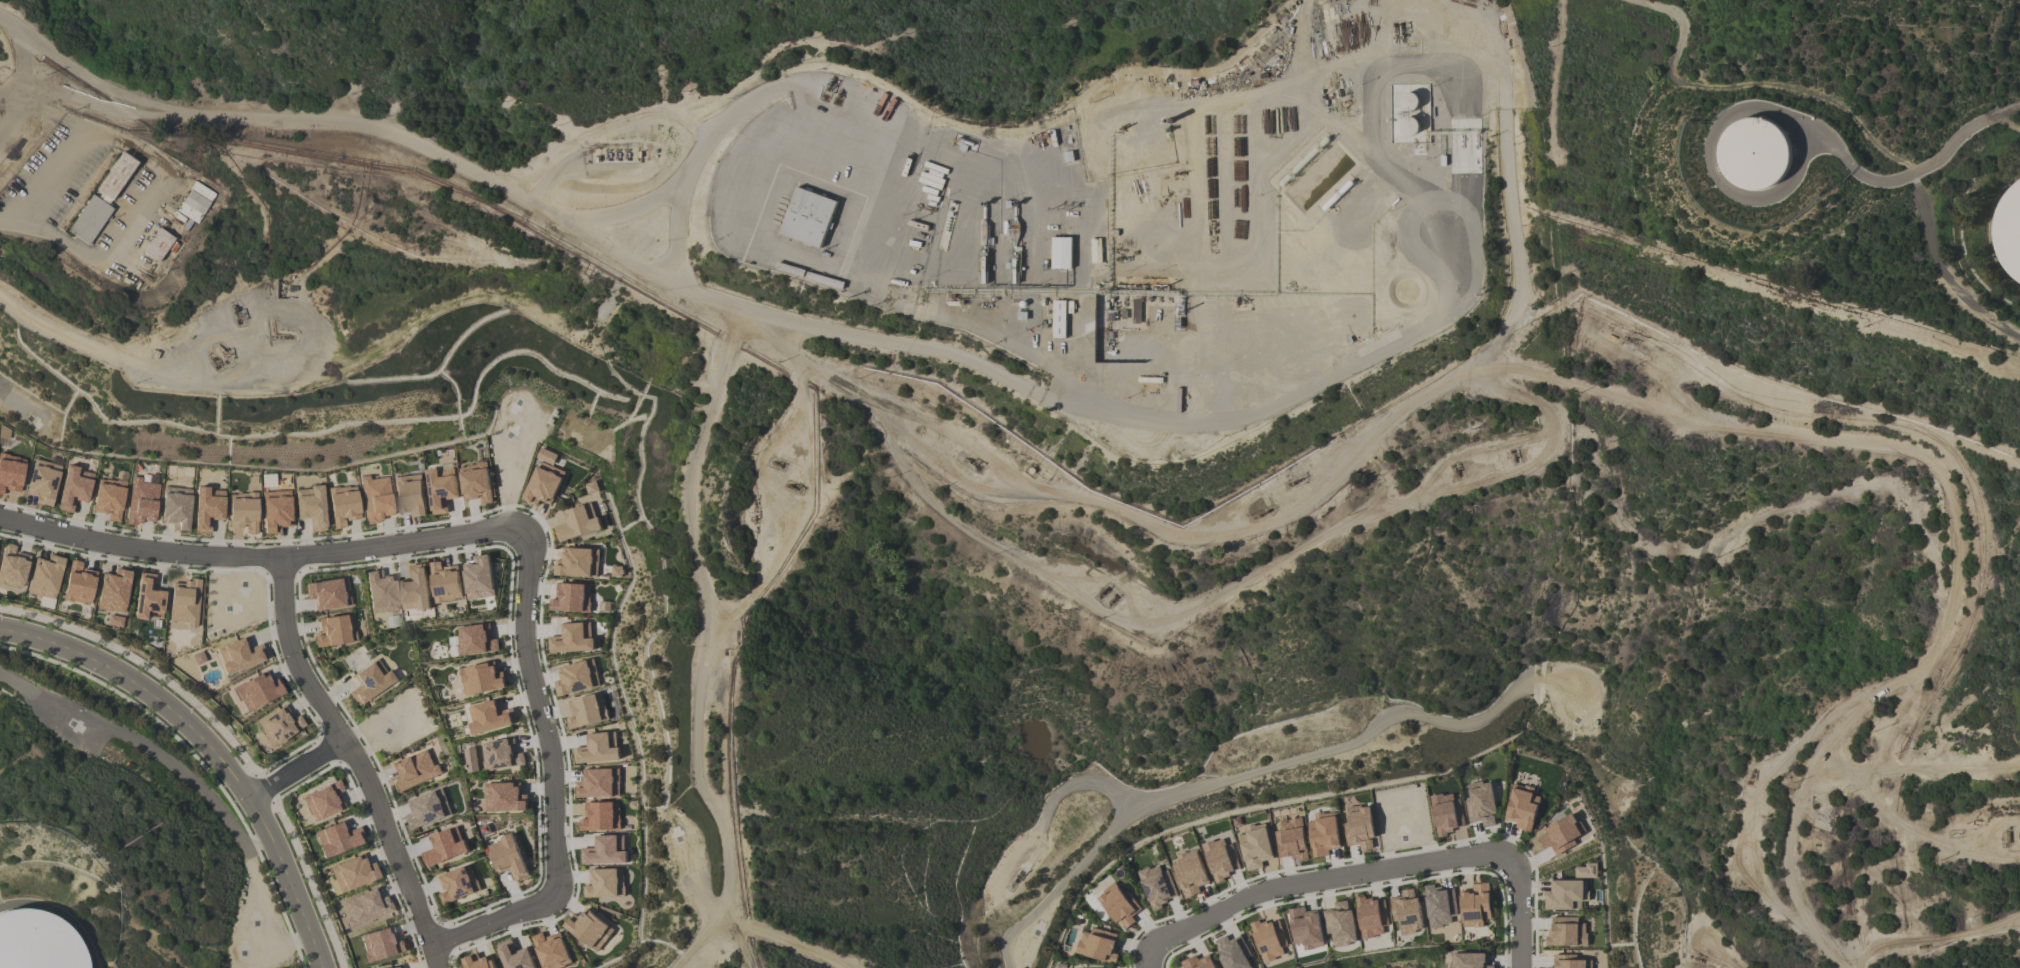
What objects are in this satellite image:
road: (1305, 19)
road: (23, 67)
road: (1803, 97)
road: (7, 104)
road: (7, 118)
road: (609, 124)
building: (1754, 155)
storage tank: (1754, 155)
road: (160, 175)
building: (114, 177)
building: (195, 202)
road: (628, 209)
building: (807, 217)
building: (89, 219)
road: (16, 221)
building: (2017, 232)
storage tank: (2017, 232)
building: (158, 244)
building: (1060, 253)
petroleum well: (235, 309)
building: (1058, 319)
petroleum well: (1629, 338)
petroleum well: (221, 351)
road: (1066, 376)
road: (888, 400)
building: (4, 437)
petroleum well: (1514, 454)
petroleum well: (968, 459)
petroleum well: (775, 464)
petroleum well: (1456, 469)
building: (11, 473)
building: (543, 479)
building: (43, 480)
petroleum well: (1293, 481)
building: (475, 483)
petroleum well: (794, 484)
building: (591, 487)
building: (74, 488)
building: (440, 491)
building: (410, 495)
building: (109, 498)
building: (376, 498)
building: (142, 502)
building: (343, 505)
building: (176, 507)
building: (311, 507)
building: (208, 508)
building: (243, 511)
building: (276, 511)
petroleum well: (1263, 513)
building: (577, 523)
road: (266, 562)
building: (577, 563)
building: (12, 567)
building: (45, 577)
building: (478, 578)
building: (445, 582)
building: (78, 584)
building: (415, 589)
petroleum well: (1102, 590)
building: (113, 591)
building: (380, 592)
building: (328, 594)
building: (570, 598)
petroleum well: (1113, 598)
building: (148, 599)
building: (185, 602)
building: (335, 631)
building: (572, 638)
building: (475, 640)
road: (718, 646)
building: (239, 655)
building: (576, 677)
building: (481, 679)
building: (370, 681)
building: (257, 691)
building: (586, 711)
building: (489, 717)
building: (279, 725)
road: (137, 742)
road: (213, 747)
building: (597, 749)
building: (500, 754)
road: (357, 764)
road: (297, 767)
building: (413, 770)
petroleum well: (1752, 773)
road: (1241, 777)
road: (551, 780)
building: (598, 784)
road: (1068, 784)
building: (504, 797)
building: (324, 801)
building: (1481, 805)
building: (1522, 807)
building: (427, 808)
building: (1446, 813)
building: (600, 816)
building: (1359, 827)
building: (1323, 834)
building: (1561, 834)
building: (337, 839)
building: (1290, 840)
building: (444, 847)
building: (1255, 847)
building: (604, 851)
building: (507, 857)
building: (1220, 859)
road: (1365, 871)
building: (1585, 871)
building: (353, 873)
building: (1191, 875)
petroleum well: (1018, 877)
building: (604, 883)
building: (457, 884)
building: (1156, 885)
building: (1566, 895)
road: (261, 899)
building: (1475, 905)
building: (1120, 906)
building: (366, 907)
building: (1439, 907)
building: (1407, 911)
building: (1371, 917)
building: (1341, 924)
building: (1305, 928)
building: (588, 929)
building: (1566, 932)
building: (38, 938)
storage tank: (38, 938)
building: (1268, 940)
building: (381, 944)
building: (1096, 944)
petroleum well: (1923, 944)
building: (551, 950)
building: (1232, 952)
building: (514, 956)
petroleum well: (1695, 957)
building: (1471, 960)
building: (478, 962)
building: (1198, 962)
building: (1571, 963)
building: (396, 967)

